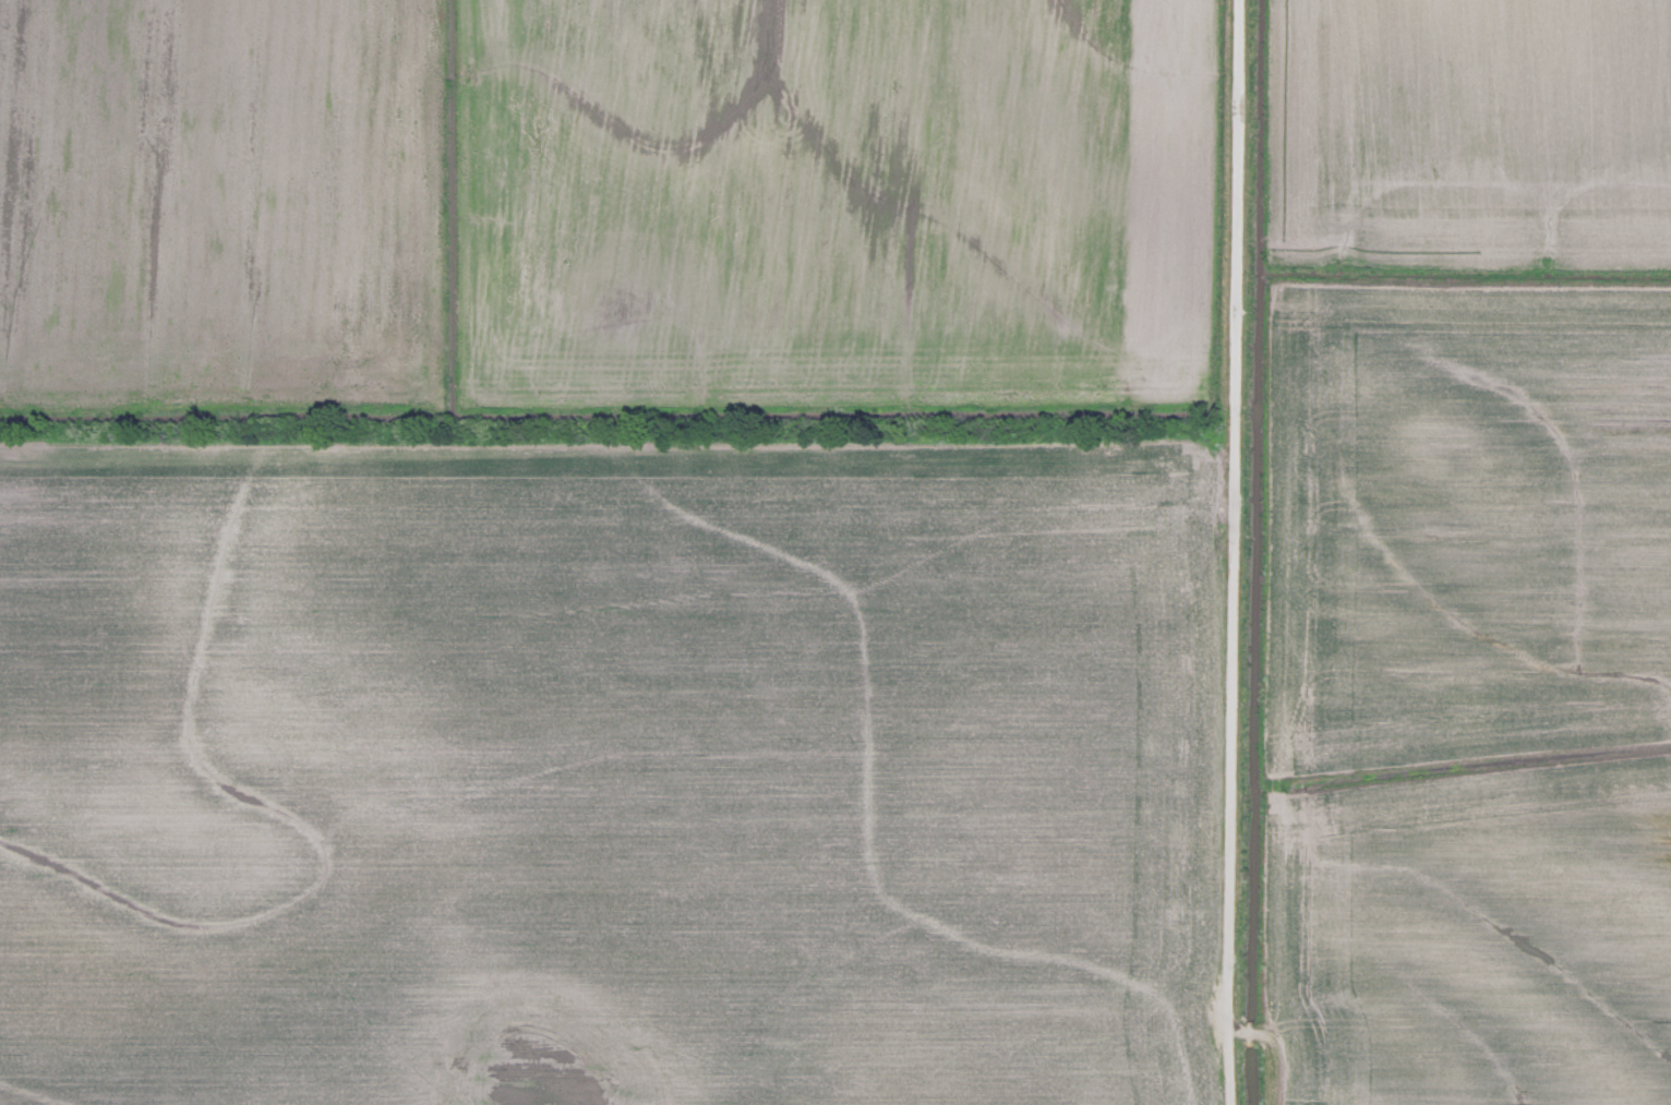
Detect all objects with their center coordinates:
road: (1212, 552)

